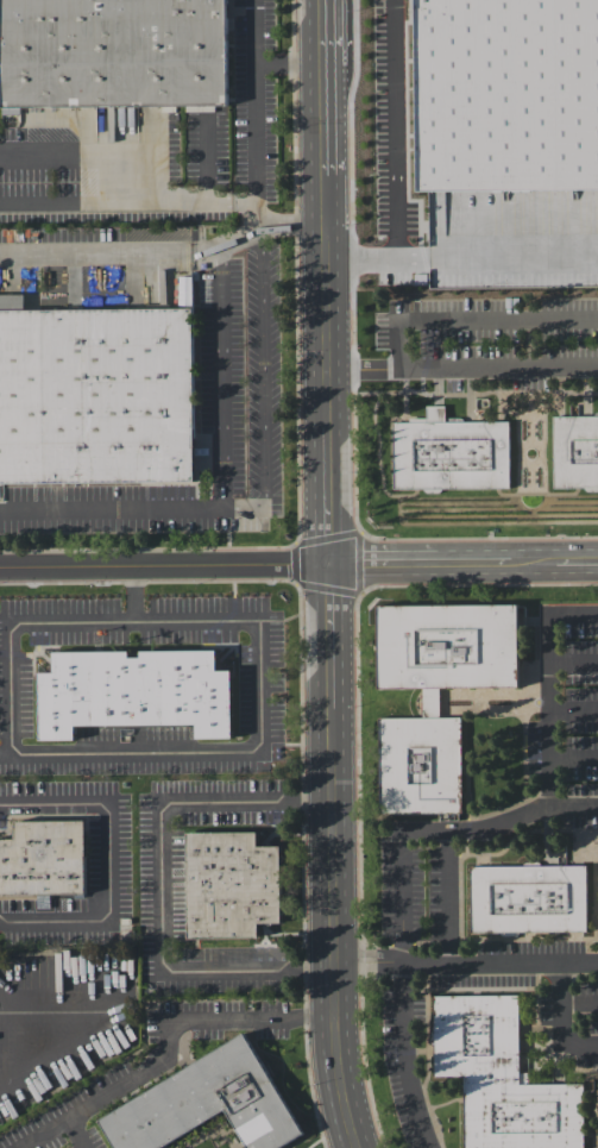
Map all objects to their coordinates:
building: (113, 56)
road: (257, 63)
road: (396, 128)
road: (252, 176)
road: (126, 202)
road: (134, 251)
road: (461, 257)
road: (503, 322)
building: (380, 359)
road: (422, 371)
building: (97, 396)
building: (575, 454)
building: (448, 456)
road: (109, 509)
road: (248, 509)
road: (298, 565)
road: (325, 575)
road: (133, 592)
road: (257, 621)
building: (438, 694)
building: (132, 696)
road: (4, 753)
road: (543, 801)
building: (43, 861)
road: (112, 861)
road: (399, 873)
road: (158, 885)
building: (231, 886)
building: (529, 901)
road: (462, 966)
road: (558, 1004)
road: (170, 1034)
road: (15, 1041)
road: (404, 1059)
building: (502, 1079)
building: (206, 1104)
road: (44, 1129)

